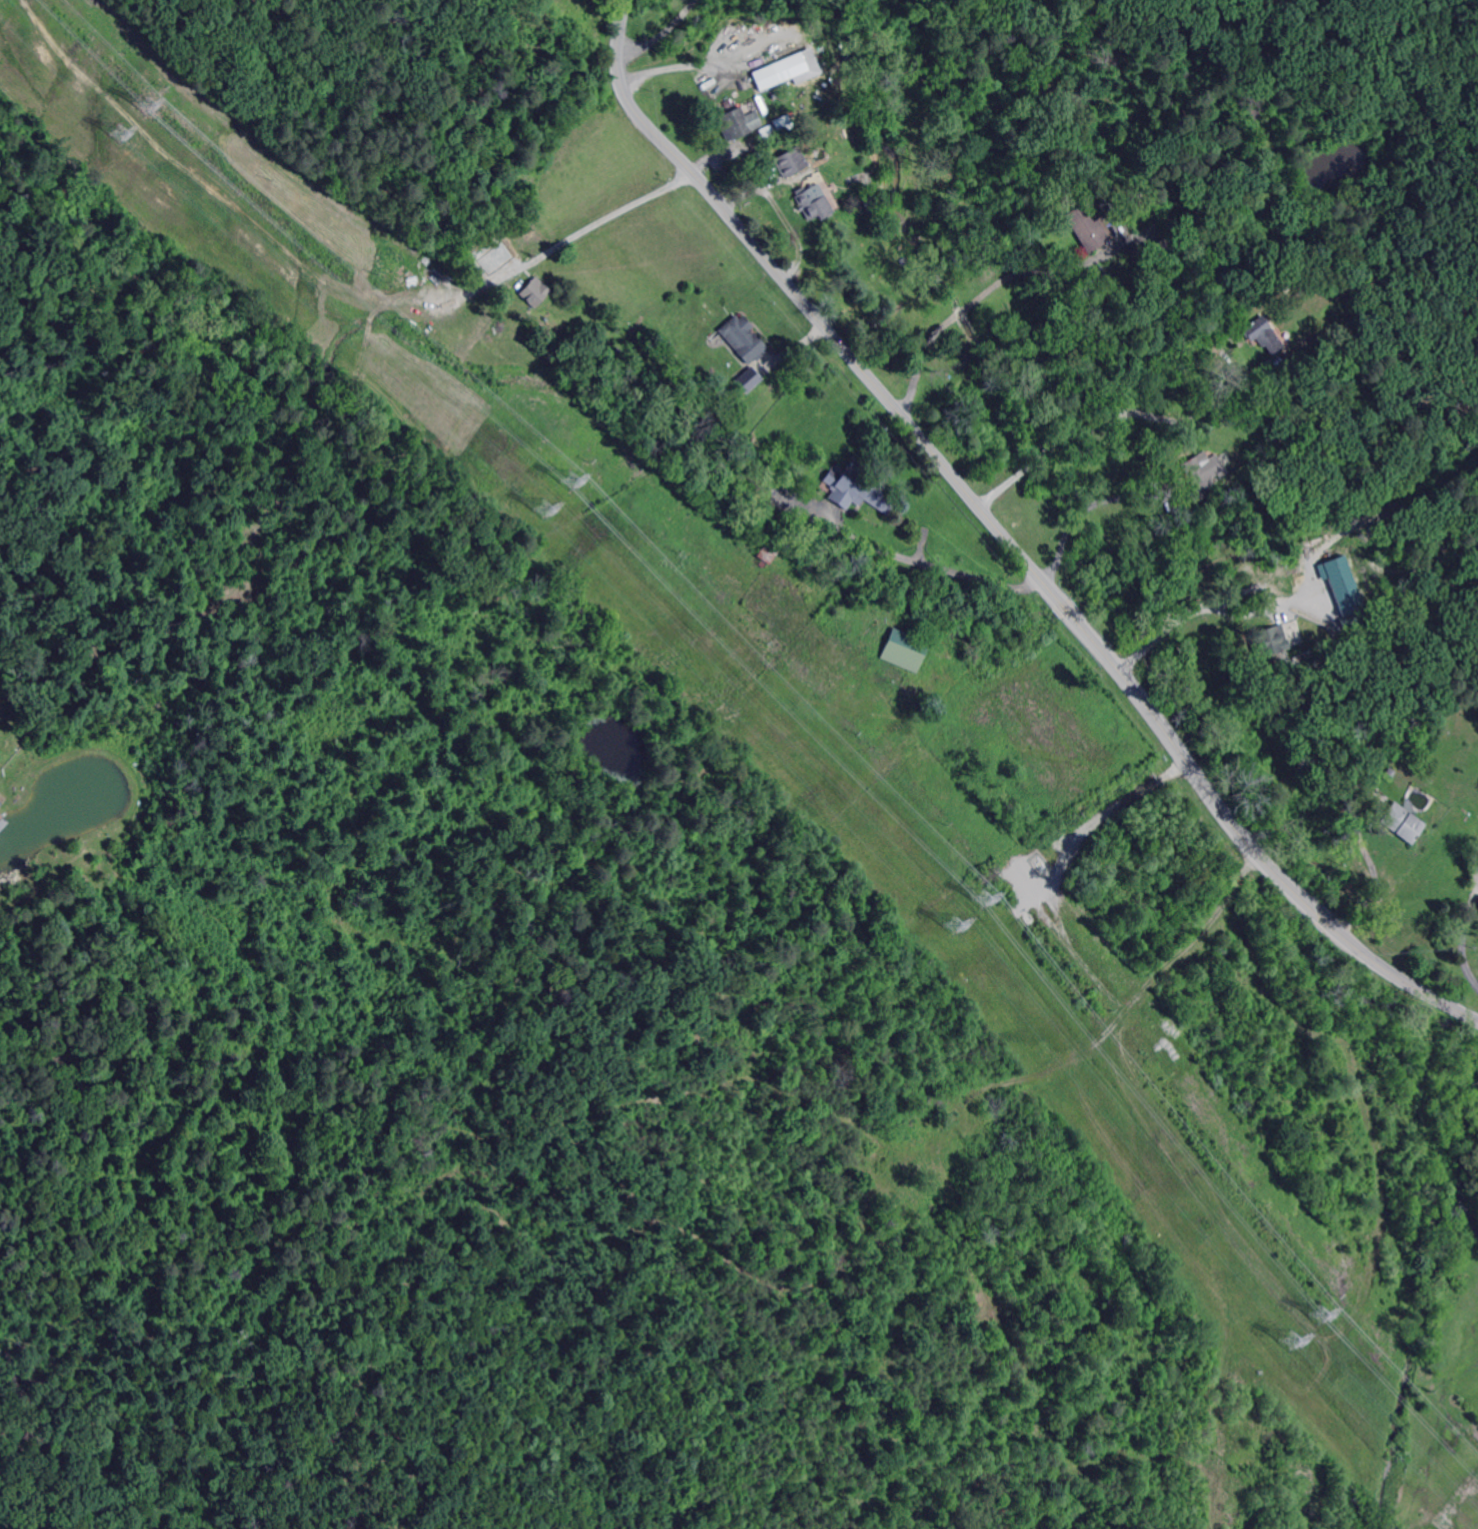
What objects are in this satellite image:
road: (661, 33)
building: (731, 54)
building: (847, 55)
road: (673, 67)
building: (772, 74)
power tower: (147, 103)
building: (1254, 110)
building: (737, 123)
building: (784, 124)
power tower: (120, 132)
building: (790, 162)
building: (814, 202)
road: (621, 209)
road: (781, 213)
building: (1089, 228)
building: (1163, 247)
building: (1285, 281)
building: (536, 291)
road: (812, 310)
road: (961, 310)
building: (1262, 336)
building: (742, 338)
building: (747, 378)
road: (1088, 420)
building: (1232, 468)
building: (1197, 472)
power tower: (572, 478)
building: (857, 488)
power tower: (544, 507)
road: (1075, 517)
building: (767, 554)
road: (952, 570)
building: (1318, 577)
building: (1340, 583)
road: (1065, 607)
building: (1318, 607)
road: (1167, 626)
building: (1270, 640)
building: (906, 650)
road: (1195, 761)
building: (1388, 773)
building: (1400, 825)
building: (1476, 864)
road: (1371, 890)
power tower: (982, 897)
building: (1477, 903)
road: (1324, 918)
power tower: (955, 925)
road: (1083, 956)
road: (1464, 959)
road: (1399, 977)
road: (1460, 1183)
power tower: (1321, 1313)
power tower: (1291, 1340)

